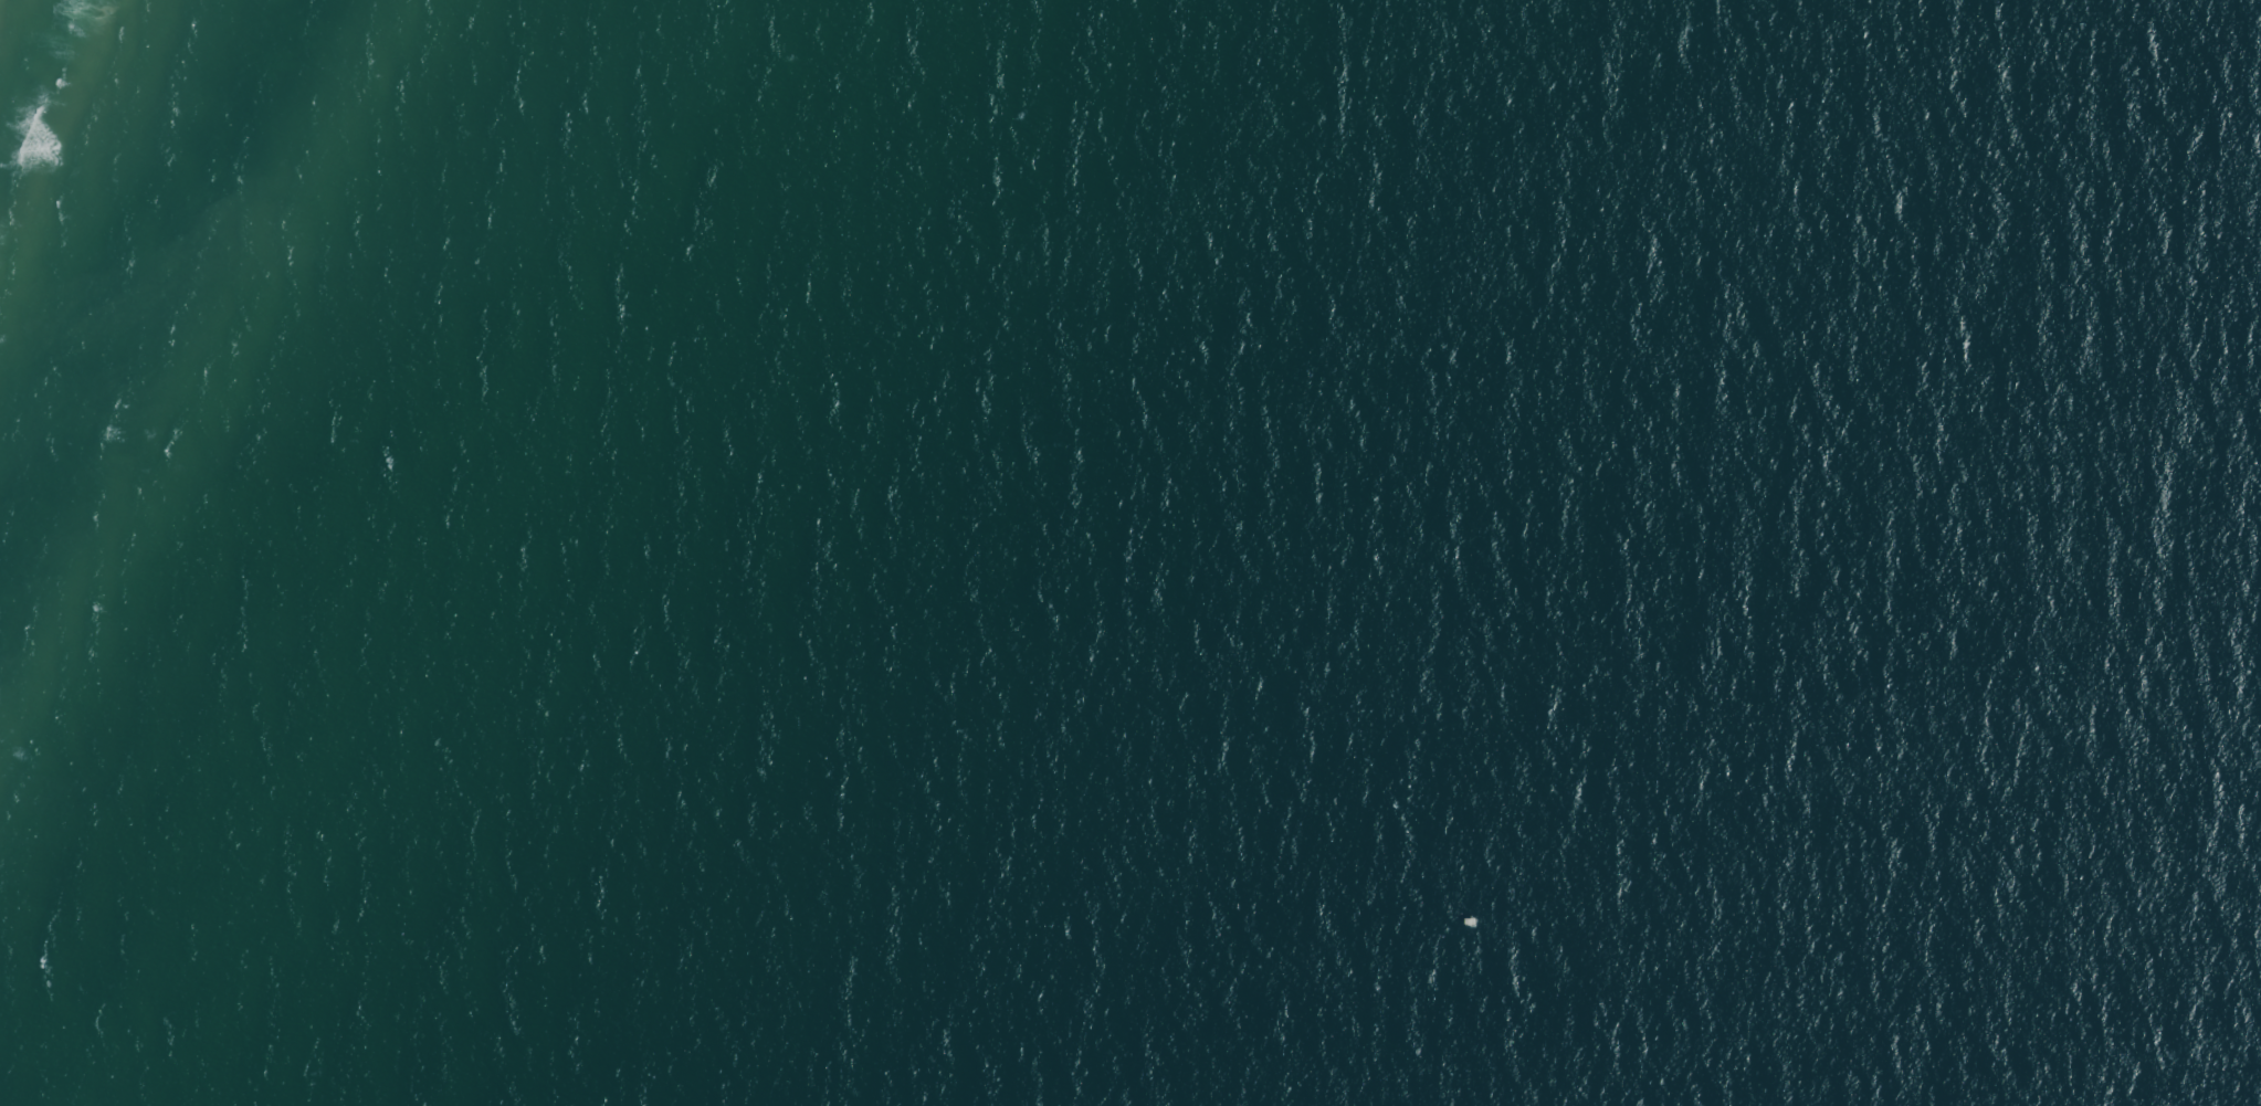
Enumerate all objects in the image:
park: (55, 104)

